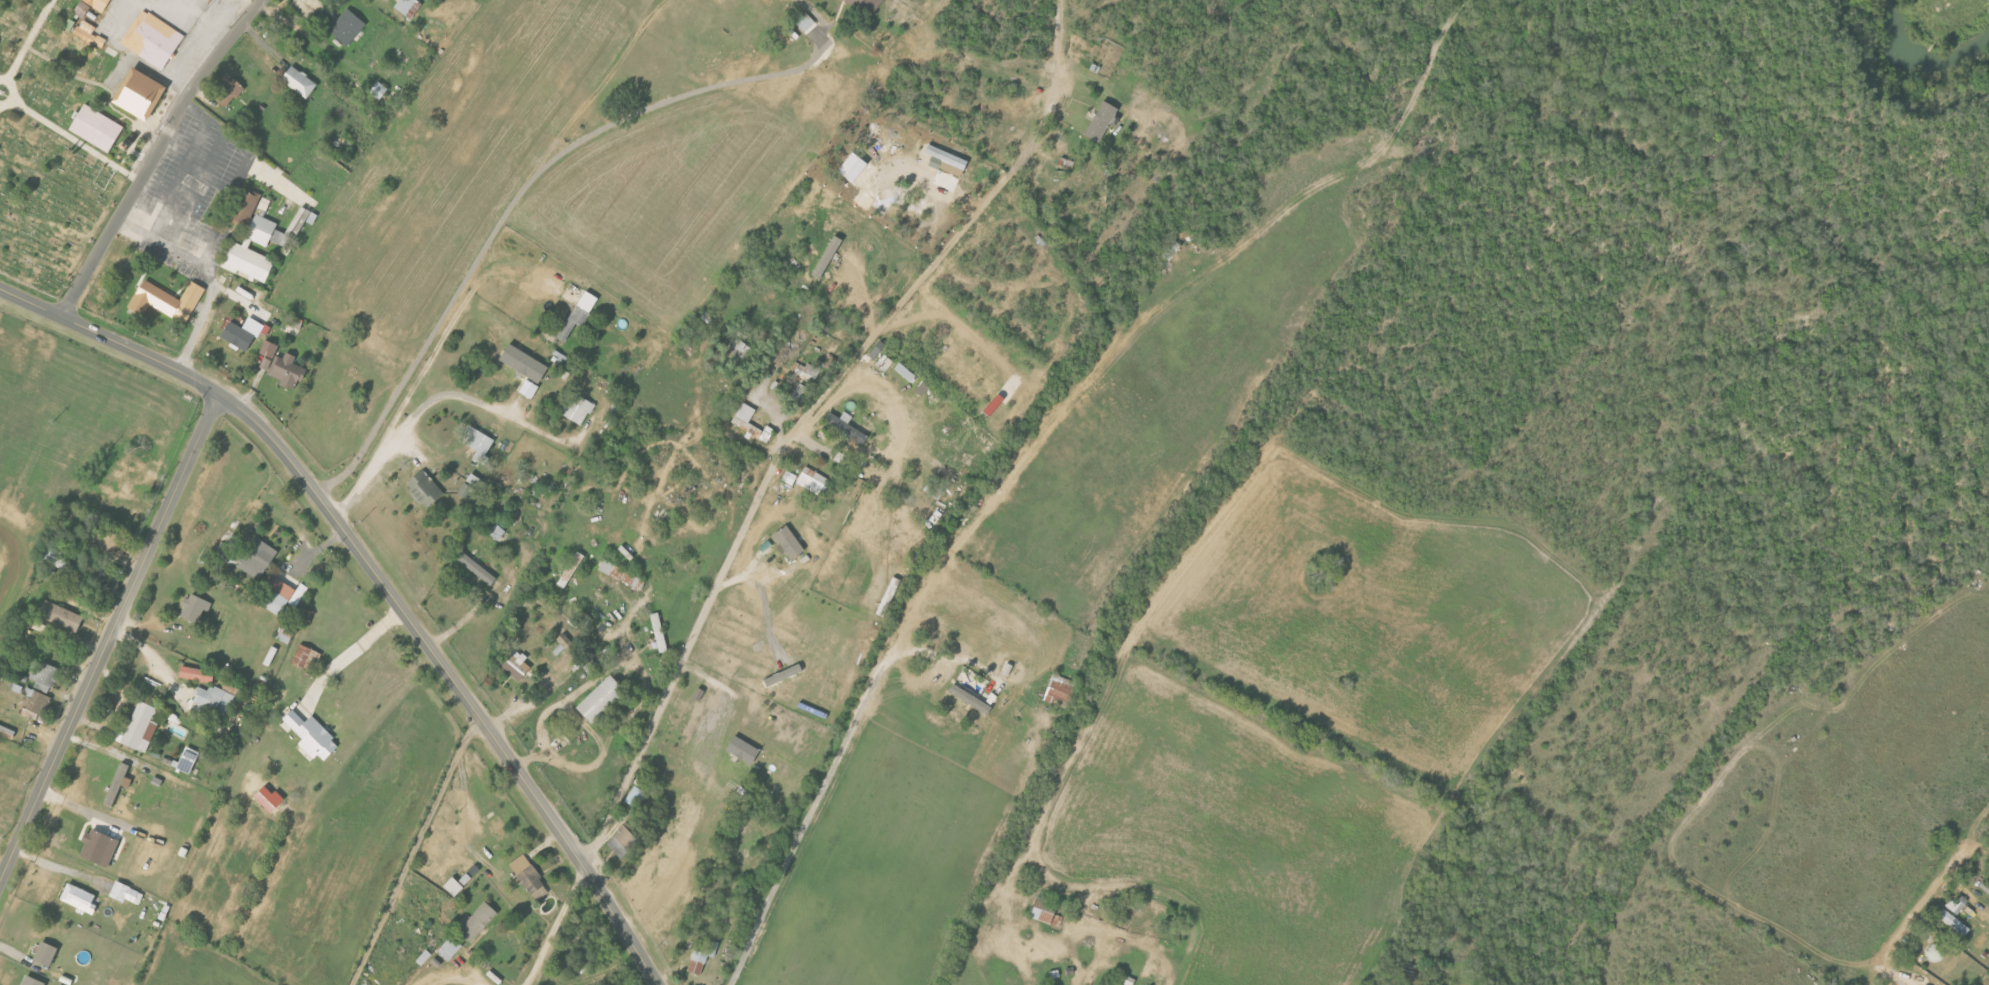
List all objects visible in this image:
building: (99, 4)
building: (405, 5)
building: (868, 5)
building: (83, 9)
building: (415, 10)
road: (824, 18)
building: (806, 21)
building: (347, 26)
road: (210, 30)
building: (89, 34)
building: (153, 39)
road: (26, 44)
river: (1977, 49)
river: (1898, 63)
building: (301, 81)
road: (604, 86)
building: (228, 90)
building: (379, 90)
building: (142, 94)
building: (1102, 121)
building: (97, 128)
road: (68, 137)
road: (153, 154)
building: (950, 160)
building: (854, 166)
road: (236, 184)
road: (516, 199)
building: (248, 207)
road: (206, 248)
building: (828, 256)
road: (208, 272)
building: (168, 300)
building: (580, 314)
building: (243, 333)
building: (269, 348)
building: (525, 363)
building: (287, 370)
building: (806, 371)
building: (905, 371)
road: (418, 379)
road: (442, 400)
building: (577, 408)
road: (805, 413)
building: (752, 424)
building: (846, 426)
building: (478, 440)
building: (789, 478)
building: (812, 480)
building: (477, 481)
building: (427, 488)
building: (497, 532)
building: (106, 539)
building: (790, 542)
building: (229, 549)
building: (258, 559)
building: (61, 561)
building: (478, 569)
building: (572, 569)
building: (622, 574)
road: (380, 580)
building: (282, 596)
building: (196, 608)
building: (62, 615)
road: (464, 619)
building: (660, 633)
road: (109, 638)
building: (565, 641)
road: (351, 653)
building: (271, 656)
building: (307, 657)
building: (518, 666)
building: (198, 675)
building: (46, 677)
building: (1061, 688)
building: (700, 694)
building: (971, 698)
building: (602, 699)
building: (34, 700)
building: (212, 701)
road: (577, 707)
building: (137, 728)
building: (7, 732)
building: (151, 732)
building: (314, 736)
building: (744, 750)
road: (107, 752)
building: (188, 760)
road: (825, 773)
building: (118, 784)
building: (270, 798)
building: (624, 841)
building: (101, 847)
road: (1975, 847)
road: (415, 851)
building: (530, 878)
building: (454, 887)
building: (128, 894)
building: (80, 899)
building: (1957, 905)
building: (420, 912)
building: (1047, 912)
building: (479, 922)
building: (1954, 922)
road: (553, 927)
building: (450, 949)
building: (47, 954)
building: (702, 955)
building: (425, 958)
road: (456, 980)
building: (33, 981)
building: (1435, 984)

